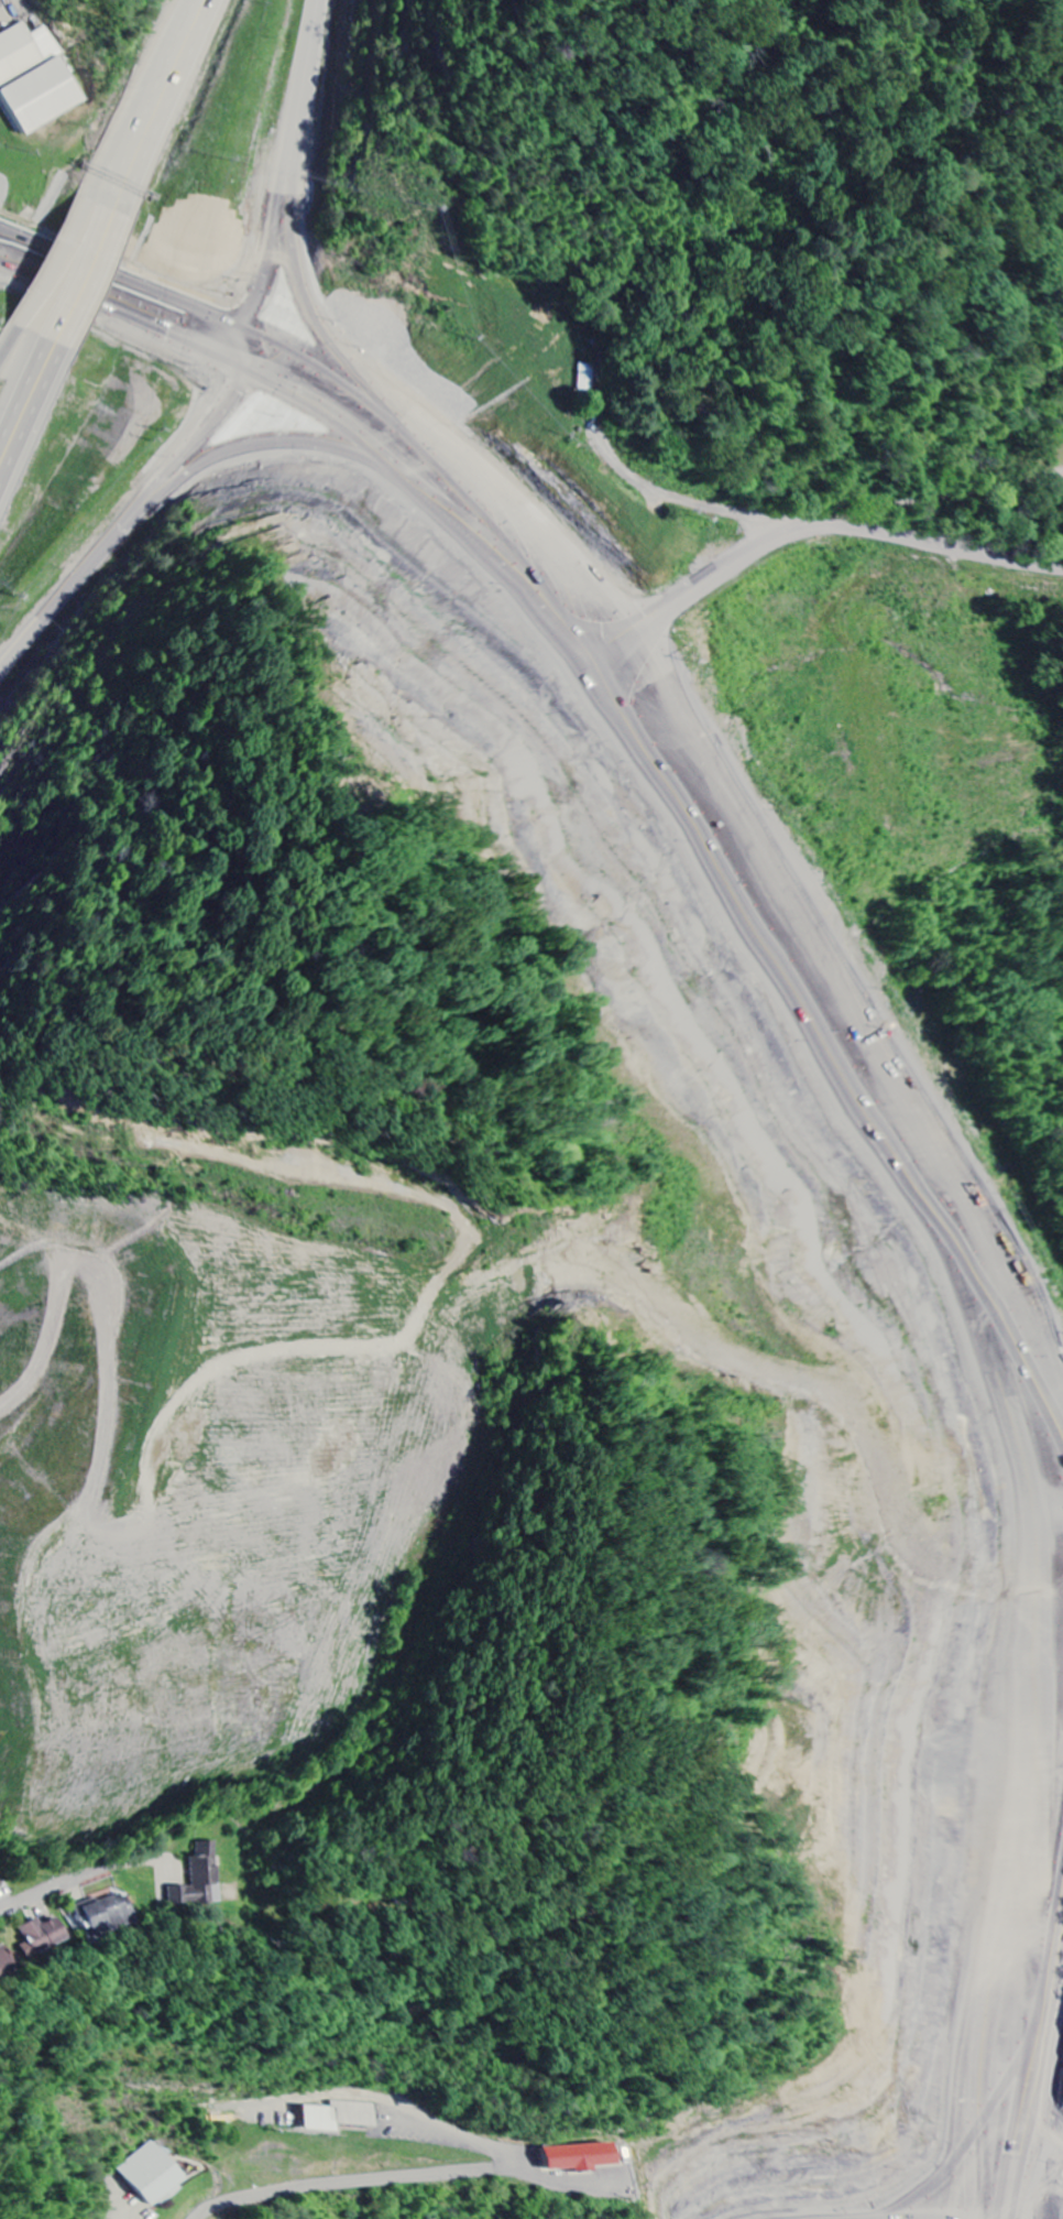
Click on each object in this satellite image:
road: (178, 30)
road: (307, 73)
building: (35, 78)
road: (171, 110)
road: (124, 132)
road: (132, 135)
road: (267, 251)
road: (52, 262)
road: (73, 271)
road: (95, 281)
road: (295, 289)
road: (116, 302)
road: (191, 309)
road: (10, 337)
road: (271, 368)
road: (23, 383)
road: (229, 391)
road: (34, 418)
road: (975, 449)
road: (141, 511)
road: (835, 527)
road: (517, 530)
road: (555, 540)
road: (626, 638)
road: (862, 1002)
road: (1048, 1323)
road: (1042, 1346)
building: (200, 1880)
building: (0, 1884)
road: (55, 1886)
building: (103, 1915)
building: (41, 1937)
building: (4, 1962)
road: (1029, 2063)
road: (1040, 2115)
building: (339, 2118)
building: (582, 2157)
building: (153, 2175)
road: (382, 2180)

